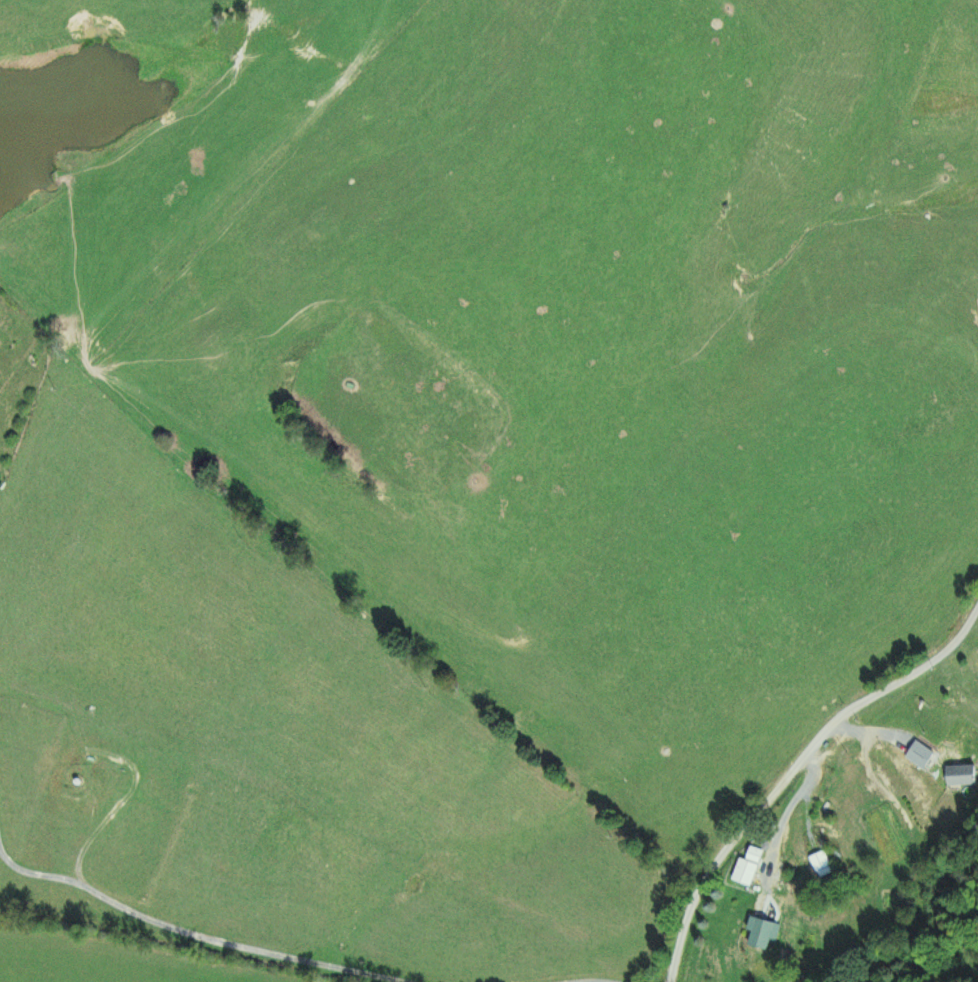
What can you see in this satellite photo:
road: (197, 279)
road: (23, 694)
road: (808, 774)
building: (961, 777)
road: (68, 808)
building: (748, 867)
building: (763, 934)

